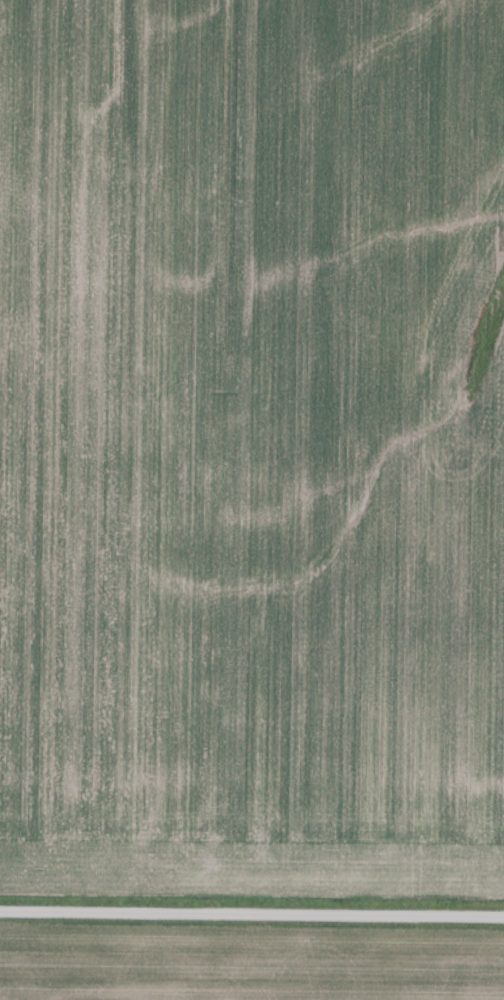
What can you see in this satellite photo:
road: (252, 914)

